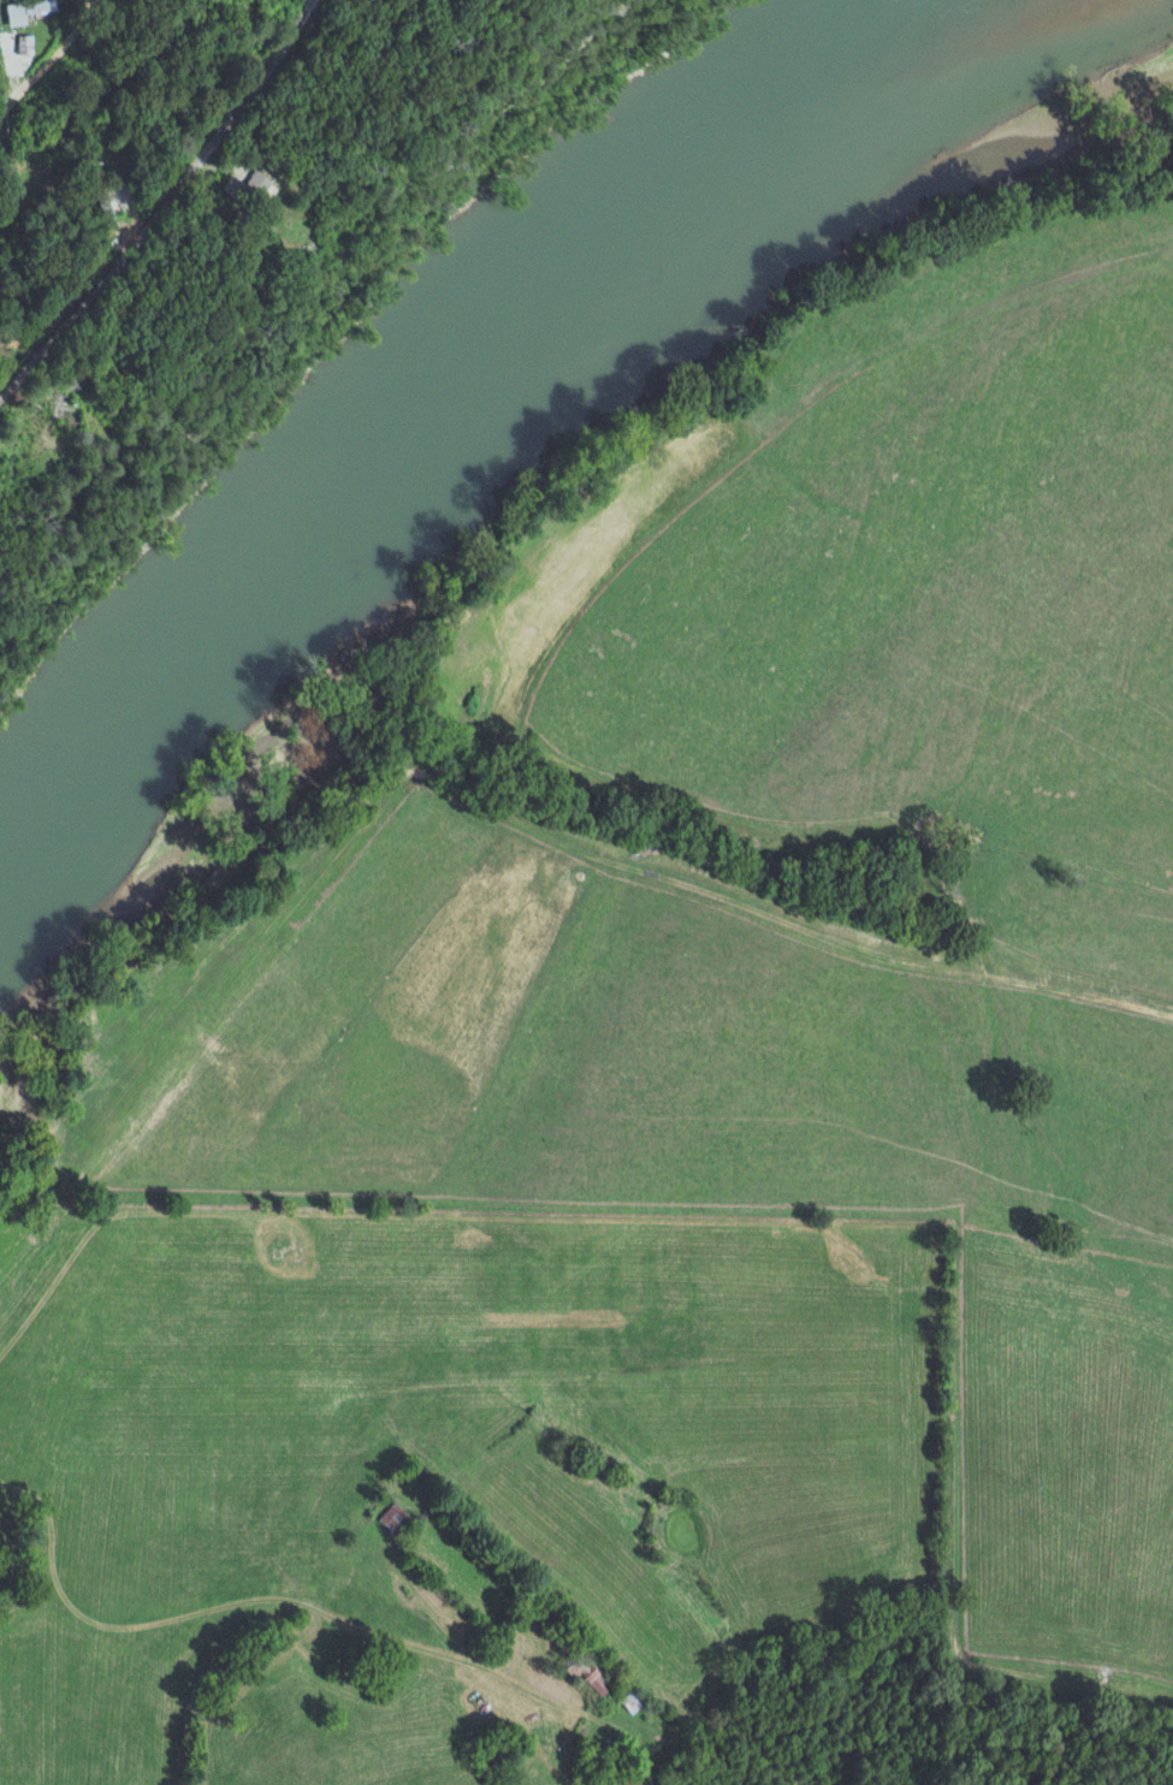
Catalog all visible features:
building: (29, 10)
road: (85, 10)
building: (26, 45)
road: (52, 60)
road: (6, 72)
road: (34, 112)
building: (256, 186)
road: (170, 212)
river: (425, 417)
road: (508, 717)
building: (393, 1518)
building: (588, 1676)
road: (502, 1678)
building: (629, 1780)

